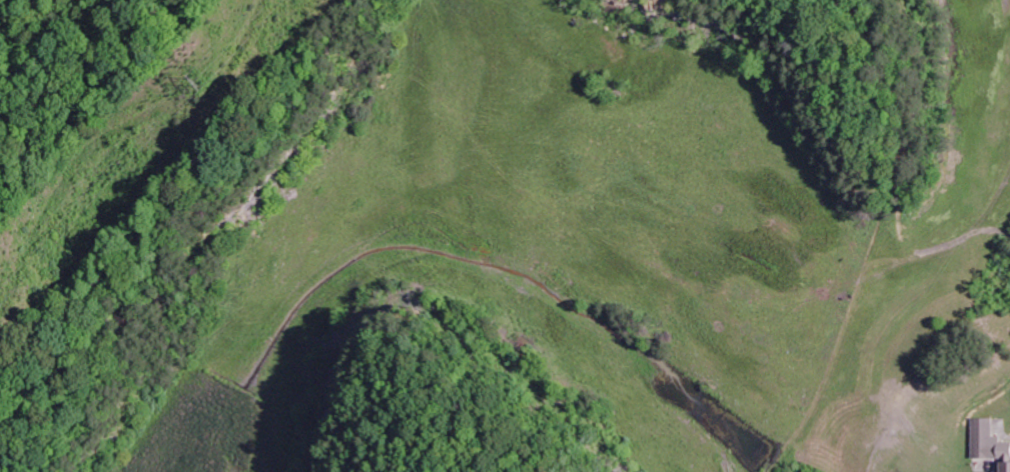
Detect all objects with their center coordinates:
building: (991, 445)

